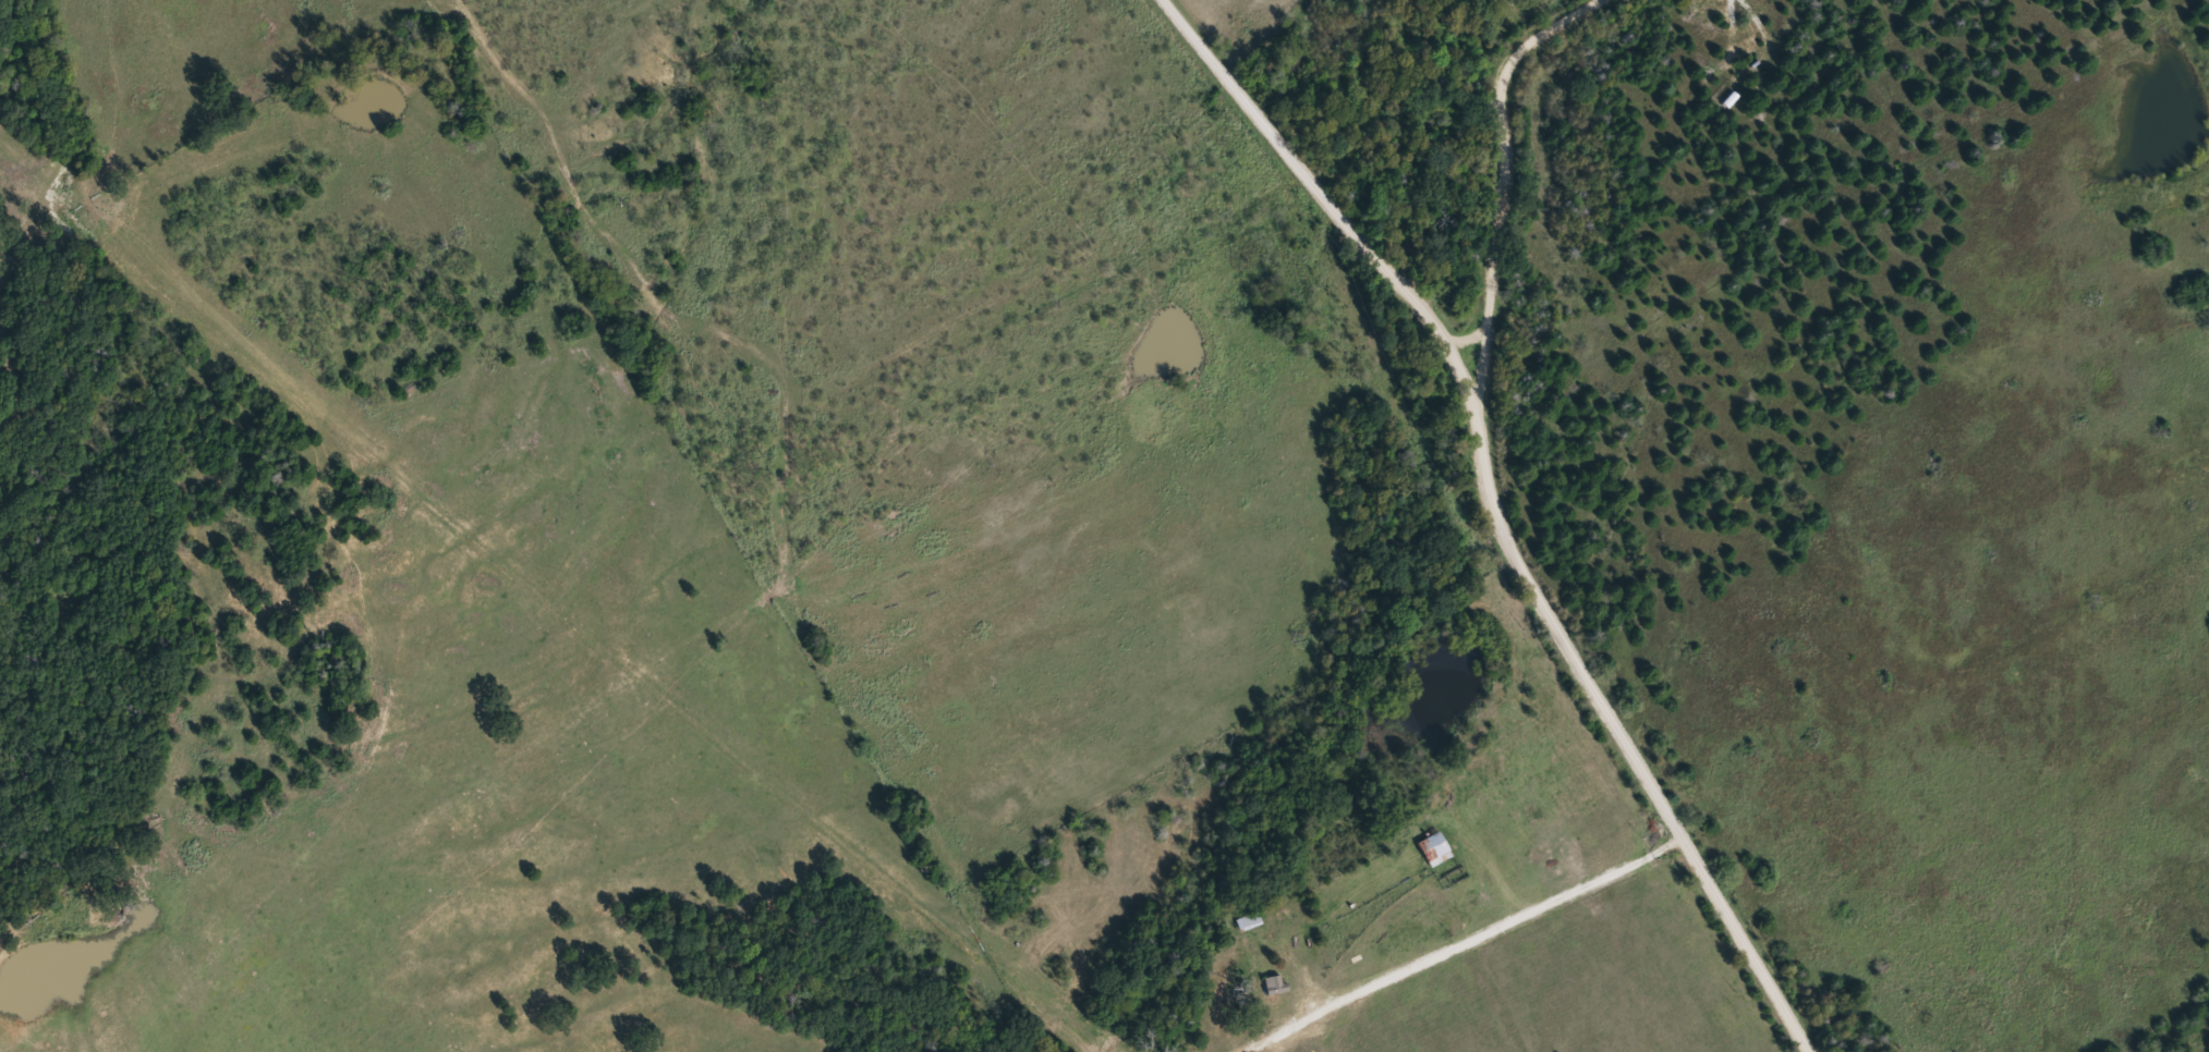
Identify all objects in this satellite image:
road: (1508, 186)
road: (1500, 512)
building: (1436, 847)
building: (1251, 920)
road: (1484, 929)
building: (1276, 983)

